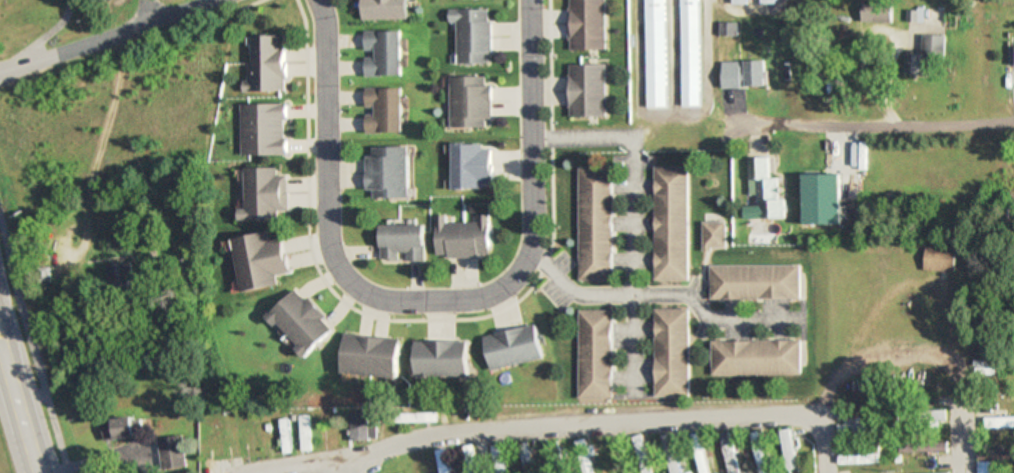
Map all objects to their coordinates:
building: (738, 2)
building: (766, 2)
building: (653, 5)
road: (144, 10)
building: (385, 10)
building: (876, 11)
building: (913, 14)
building: (587, 24)
building: (727, 30)
building: (473, 34)
road: (102, 36)
building: (383, 53)
building: (923, 54)
building: (1011, 55)
building: (691, 56)
building: (268, 64)
building: (656, 65)
building: (743, 74)
building: (588, 90)
building: (471, 101)
building: (385, 110)
road: (877, 123)
building: (265, 129)
building: (474, 165)
building: (389, 172)
building: (763, 191)
building: (266, 194)
road: (77, 223)
building: (672, 223)
building: (597, 224)
road: (633, 226)
building: (715, 236)
building: (465, 239)
building: (405, 243)
building: (940, 260)
building: (263, 261)
building: (120, 273)
building: (753, 282)
road: (659, 295)
road: (428, 302)
building: (304, 322)
building: (515, 348)
road: (33, 352)
building: (672, 353)
building: (597, 355)
building: (754, 357)
building: (374, 358)
building: (444, 359)
road: (27, 385)
building: (418, 417)
building: (360, 426)
road: (540, 426)
building: (125, 429)
building: (857, 429)
building: (293, 430)
road: (12, 434)
building: (249, 439)
road: (961, 441)
road: (818, 444)
building: (932, 446)
building: (612, 447)
building: (759, 450)
building: (788, 451)
building: (729, 452)
building: (174, 453)
building: (556, 453)
building: (700, 453)
building: (672, 454)
building: (996, 454)
building: (586, 455)
building: (528, 457)
building: (472, 459)
building: (500, 459)
building: (859, 459)
building: (444, 460)
building: (414, 462)
road: (353, 464)
building: (985, 467)

